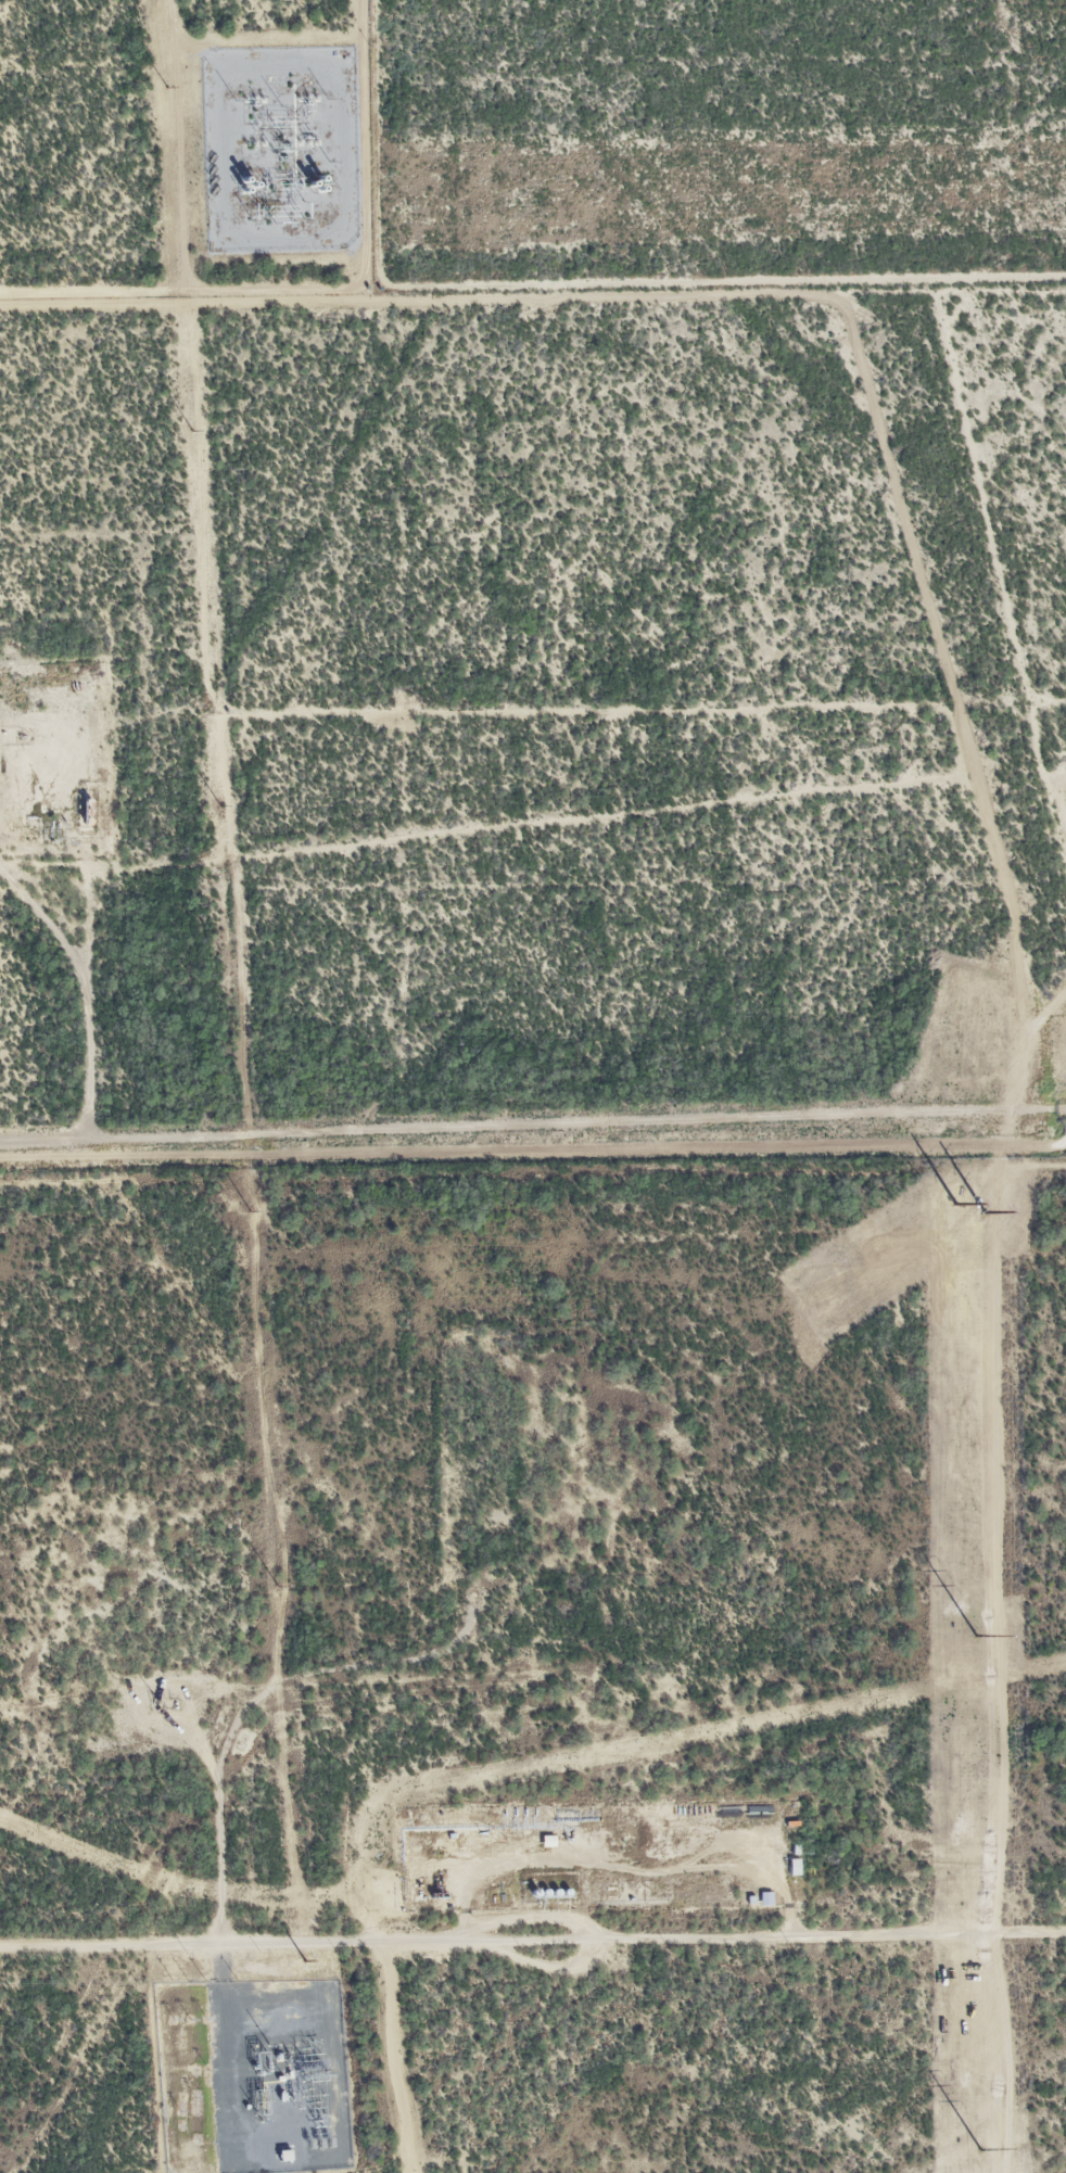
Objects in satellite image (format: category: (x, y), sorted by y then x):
power tower: (164, 87)
power tower: (189, 430)
power tower: (217, 805)
road: (533, 1156)
power tower: (248, 1210)
power tower: (986, 1211)
power tower: (275, 1586)
power tower: (976, 1635)
building: (797, 1861)
road: (533, 1944)
power tower: (303, 1960)
power substation: (251, 2074)
power tower: (979, 2148)

